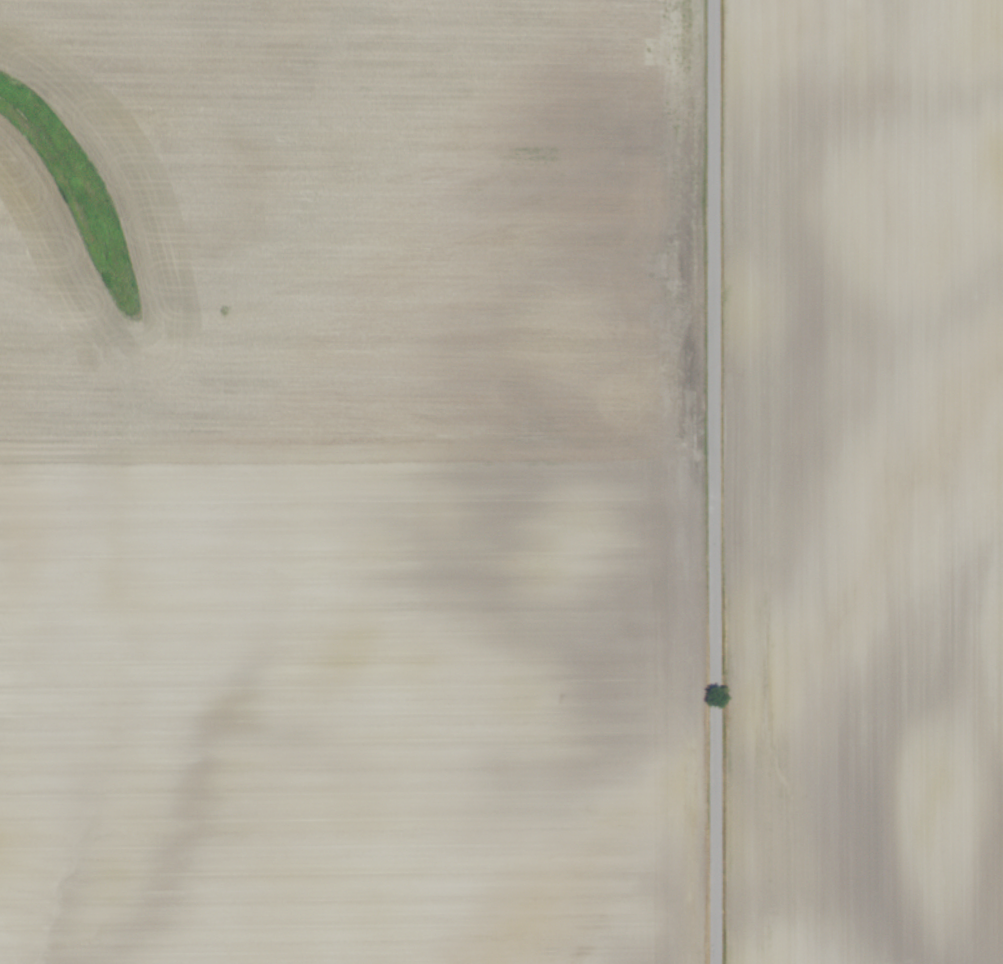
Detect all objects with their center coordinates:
road: (712, 482)

